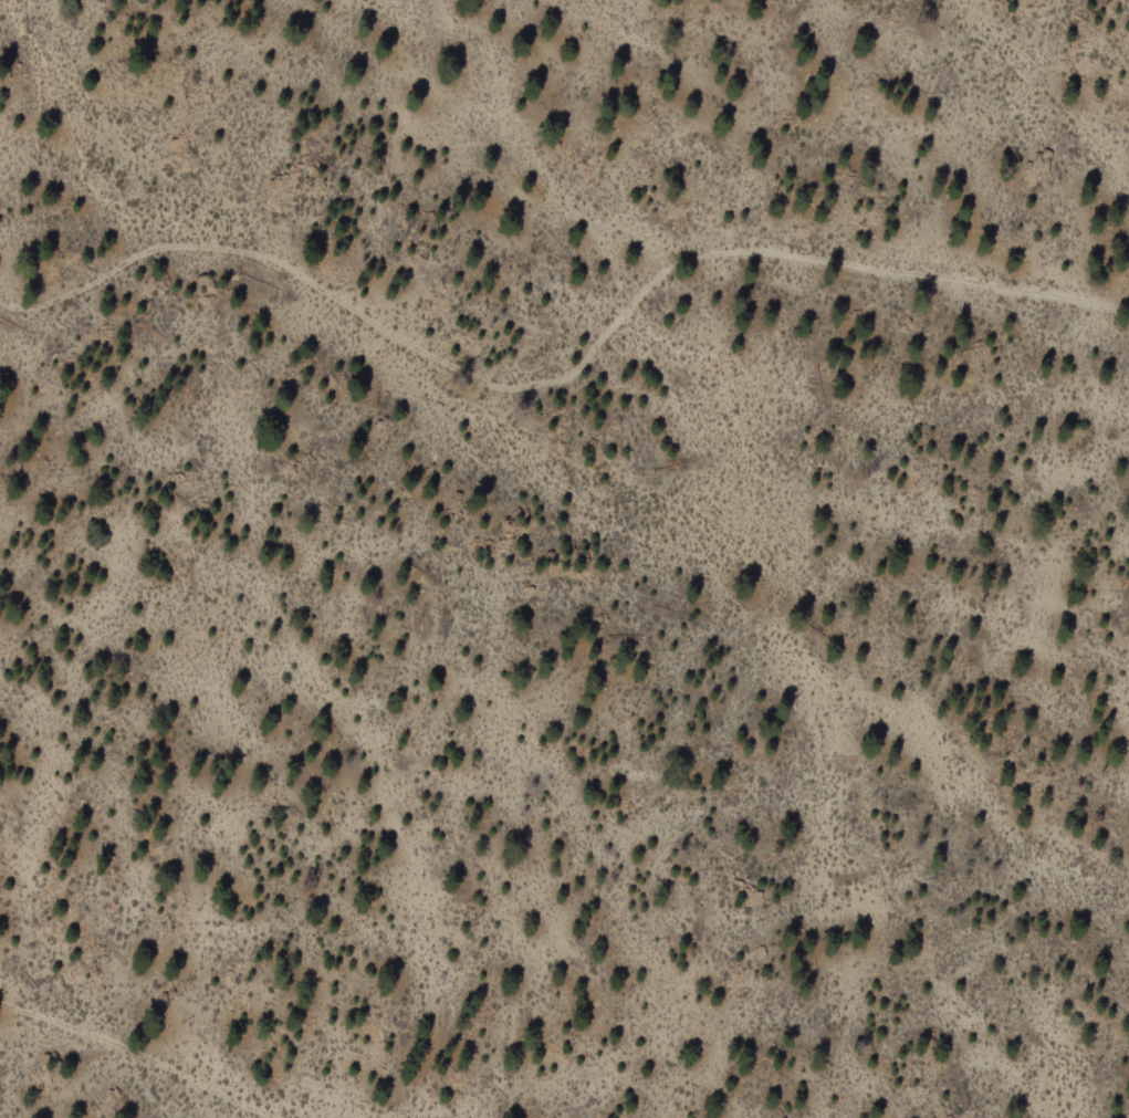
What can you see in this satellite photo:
road: (1043, 84)
road: (563, 375)
road: (140, 1056)

